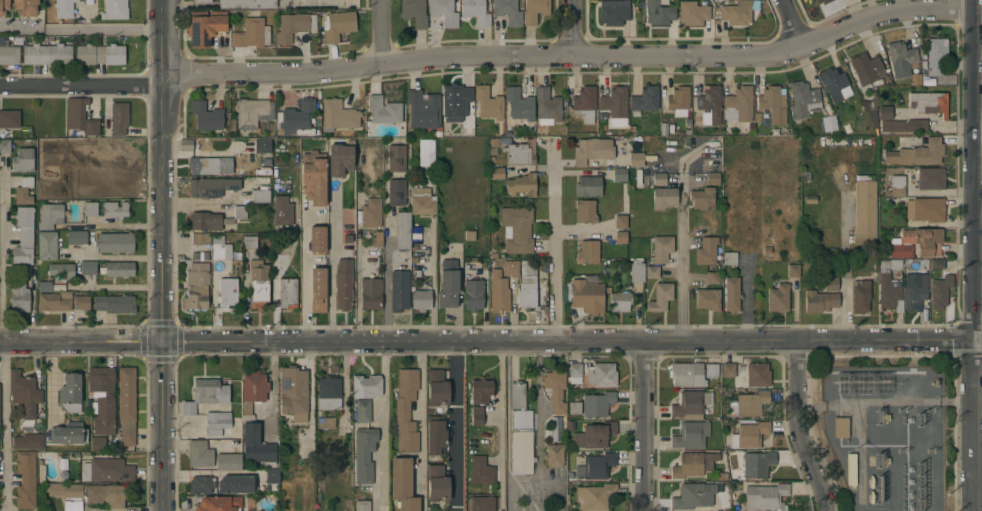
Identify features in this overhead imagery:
building: (715, 0)
building: (823, 1)
building: (203, 2)
building: (247, 4)
building: (3, 7)
building: (25, 7)
building: (64, 8)
building: (115, 10)
building: (507, 11)
building: (535, 11)
building: (414, 12)
building: (443, 12)
building: (475, 12)
building: (614, 12)
building: (659, 12)
building: (739, 12)
building: (693, 13)
road: (978, 13)
road: (792, 24)
building: (338, 25)
building: (293, 26)
road: (20, 27)
building: (204, 27)
road: (574, 27)
road: (99, 29)
road: (382, 31)
building: (252, 34)
building: (9, 54)
building: (47, 54)
building: (99, 55)
road: (489, 55)
building: (936, 56)
building: (901, 59)
building: (865, 65)
building: (835, 84)
building: (802, 99)
building: (644, 100)
building: (679, 102)
building: (456, 103)
building: (488, 103)
building: (929, 103)
building: (519, 104)
building: (584, 104)
building: (773, 104)
building: (739, 105)
building: (614, 106)
building: (710, 106)
building: (547, 107)
building: (423, 110)
building: (253, 113)
building: (382, 113)
building: (884, 113)
building: (206, 116)
building: (338, 116)
building: (80, 117)
building: (119, 118)
building: (9, 119)
building: (296, 119)
building: (829, 123)
building: (905, 126)
road: (977, 133)
building: (185, 145)
building: (262, 146)
building: (5, 147)
building: (592, 151)
building: (426, 153)
building: (521, 153)
building: (917, 154)
building: (396, 159)
building: (636, 159)
building: (23, 160)
building: (340, 160)
building: (211, 166)
building: (267, 166)
building: (496, 173)
building: (110, 174)
building: (619, 174)
building: (313, 178)
building: (930, 178)
building: (659, 179)
building: (713, 179)
building: (522, 185)
building: (588, 186)
building: (897, 186)
building: (77, 187)
building: (212, 187)
building: (24, 191)
building: (260, 191)
building: (396, 192)
building: (664, 198)
building: (702, 199)
building: (422, 201)
building: (90, 208)
building: (115, 210)
building: (925, 210)
building: (283, 211)
building: (585, 211)
building: (240, 212)
building: (864, 212)
building: (371, 213)
building: (50, 216)
building: (205, 221)
building: (621, 222)
road: (121, 225)
building: (517, 229)
building: (402, 231)
building: (469, 236)
building: (24, 237)
building: (76, 237)
building: (621, 238)
building: (201, 239)
building: (316, 240)
building: (377, 240)
building: (923, 241)
building: (116, 242)
building: (249, 243)
building: (47, 246)
building: (661, 249)
building: (220, 250)
building: (706, 251)
building: (900, 251)
building: (588, 253)
road: (161, 255)
road: (973, 255)
road: (554, 256)
road: (118, 257)
building: (730, 258)
road: (331, 263)
road: (685, 264)
road: (846, 264)
building: (891, 264)
building: (937, 264)
building: (88, 268)
building: (511, 268)
building: (119, 269)
building: (62, 270)
building: (793, 270)
building: (652, 272)
building: (637, 273)
road: (304, 278)
building: (713, 278)
road: (431, 281)
building: (344, 284)
building: (448, 284)
building: (830, 284)
building: (44, 286)
building: (197, 286)
building: (527, 286)
road: (121, 287)
building: (259, 287)
building: (317, 290)
building: (399, 290)
building: (940, 291)
road: (386, 292)
building: (288, 293)
building: (498, 293)
building: (890, 293)
building: (228, 294)
building: (371, 294)
building: (732, 294)
road: (356, 295)
building: (473, 295)
building: (860, 295)
building: (914, 296)
building: (587, 297)
building: (660, 298)
building: (778, 298)
building: (19, 299)
building: (708, 299)
building: (421, 300)
building: (54, 301)
building: (820, 301)
building: (81, 302)
building: (620, 302)
building: (115, 304)
road: (1, 339)
road: (491, 345)
building: (711, 370)
building: (728, 370)
building: (573, 373)
building: (601, 375)
building: (687, 375)
building: (754, 375)
building: (100, 378)
road: (272, 378)
road: (51, 382)
building: (366, 387)
building: (437, 388)
building: (253, 390)
building: (555, 390)
building: (480, 391)
building: (70, 393)
building: (328, 393)
building: (207, 394)
building: (294, 395)
building: (517, 395)
building: (24, 396)
building: (690, 403)
building: (751, 403)
building: (597, 404)
building: (126, 405)
road: (383, 405)
building: (574, 408)
road: (500, 409)
building: (363, 411)
building: (406, 411)
building: (103, 414)
road: (538, 415)
road: (420, 416)
building: (477, 416)
building: (326, 423)
building: (217, 424)
road: (646, 427)
road: (457, 428)
building: (840, 428)
building: (557, 430)
road: (794, 430)
building: (68, 434)
building: (436, 435)
building: (593, 435)
building: (690, 435)
building: (749, 435)
power substation: (884, 436)
building: (27, 441)
building: (521, 442)
building: (98, 444)
building: (256, 445)
building: (200, 454)
building: (364, 454)
building: (554, 455)
building: (228, 462)
building: (693, 464)
building: (757, 464)
building: (594, 467)
building: (851, 469)
building: (107, 470)
building: (481, 471)
building: (40, 472)
building: (271, 476)
building: (25, 479)
building: (437, 483)
building: (235, 484)
building: (200, 485)
building: (402, 485)
road: (533, 485)
building: (64, 490)
building: (107, 495)
building: (595, 496)
building: (693, 496)
building: (765, 497)
building: (482, 503)
building: (219, 504)
building: (70, 506)
building: (362, 506)

